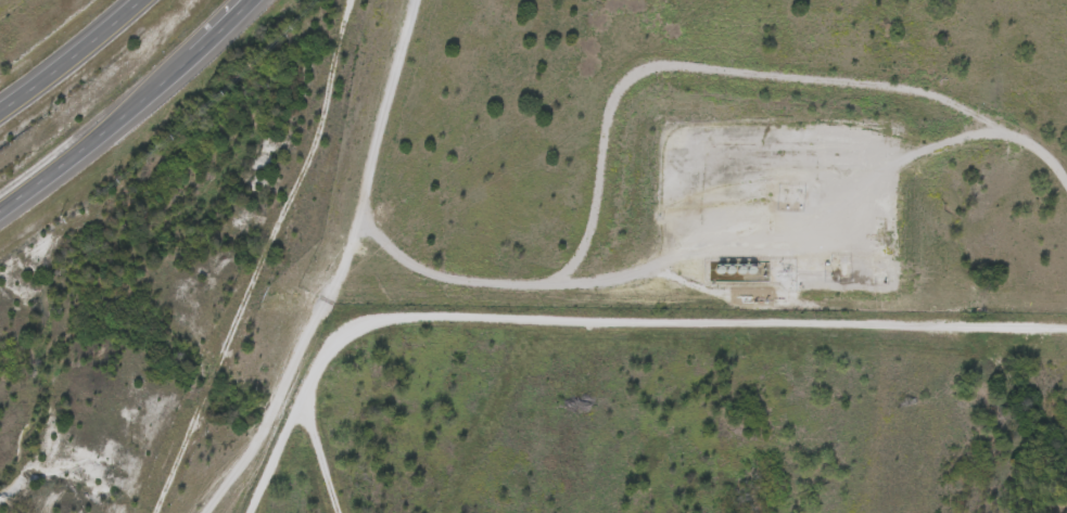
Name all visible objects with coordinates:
road: (66, 52)
road: (131, 111)
road: (340, 270)
road: (605, 318)

